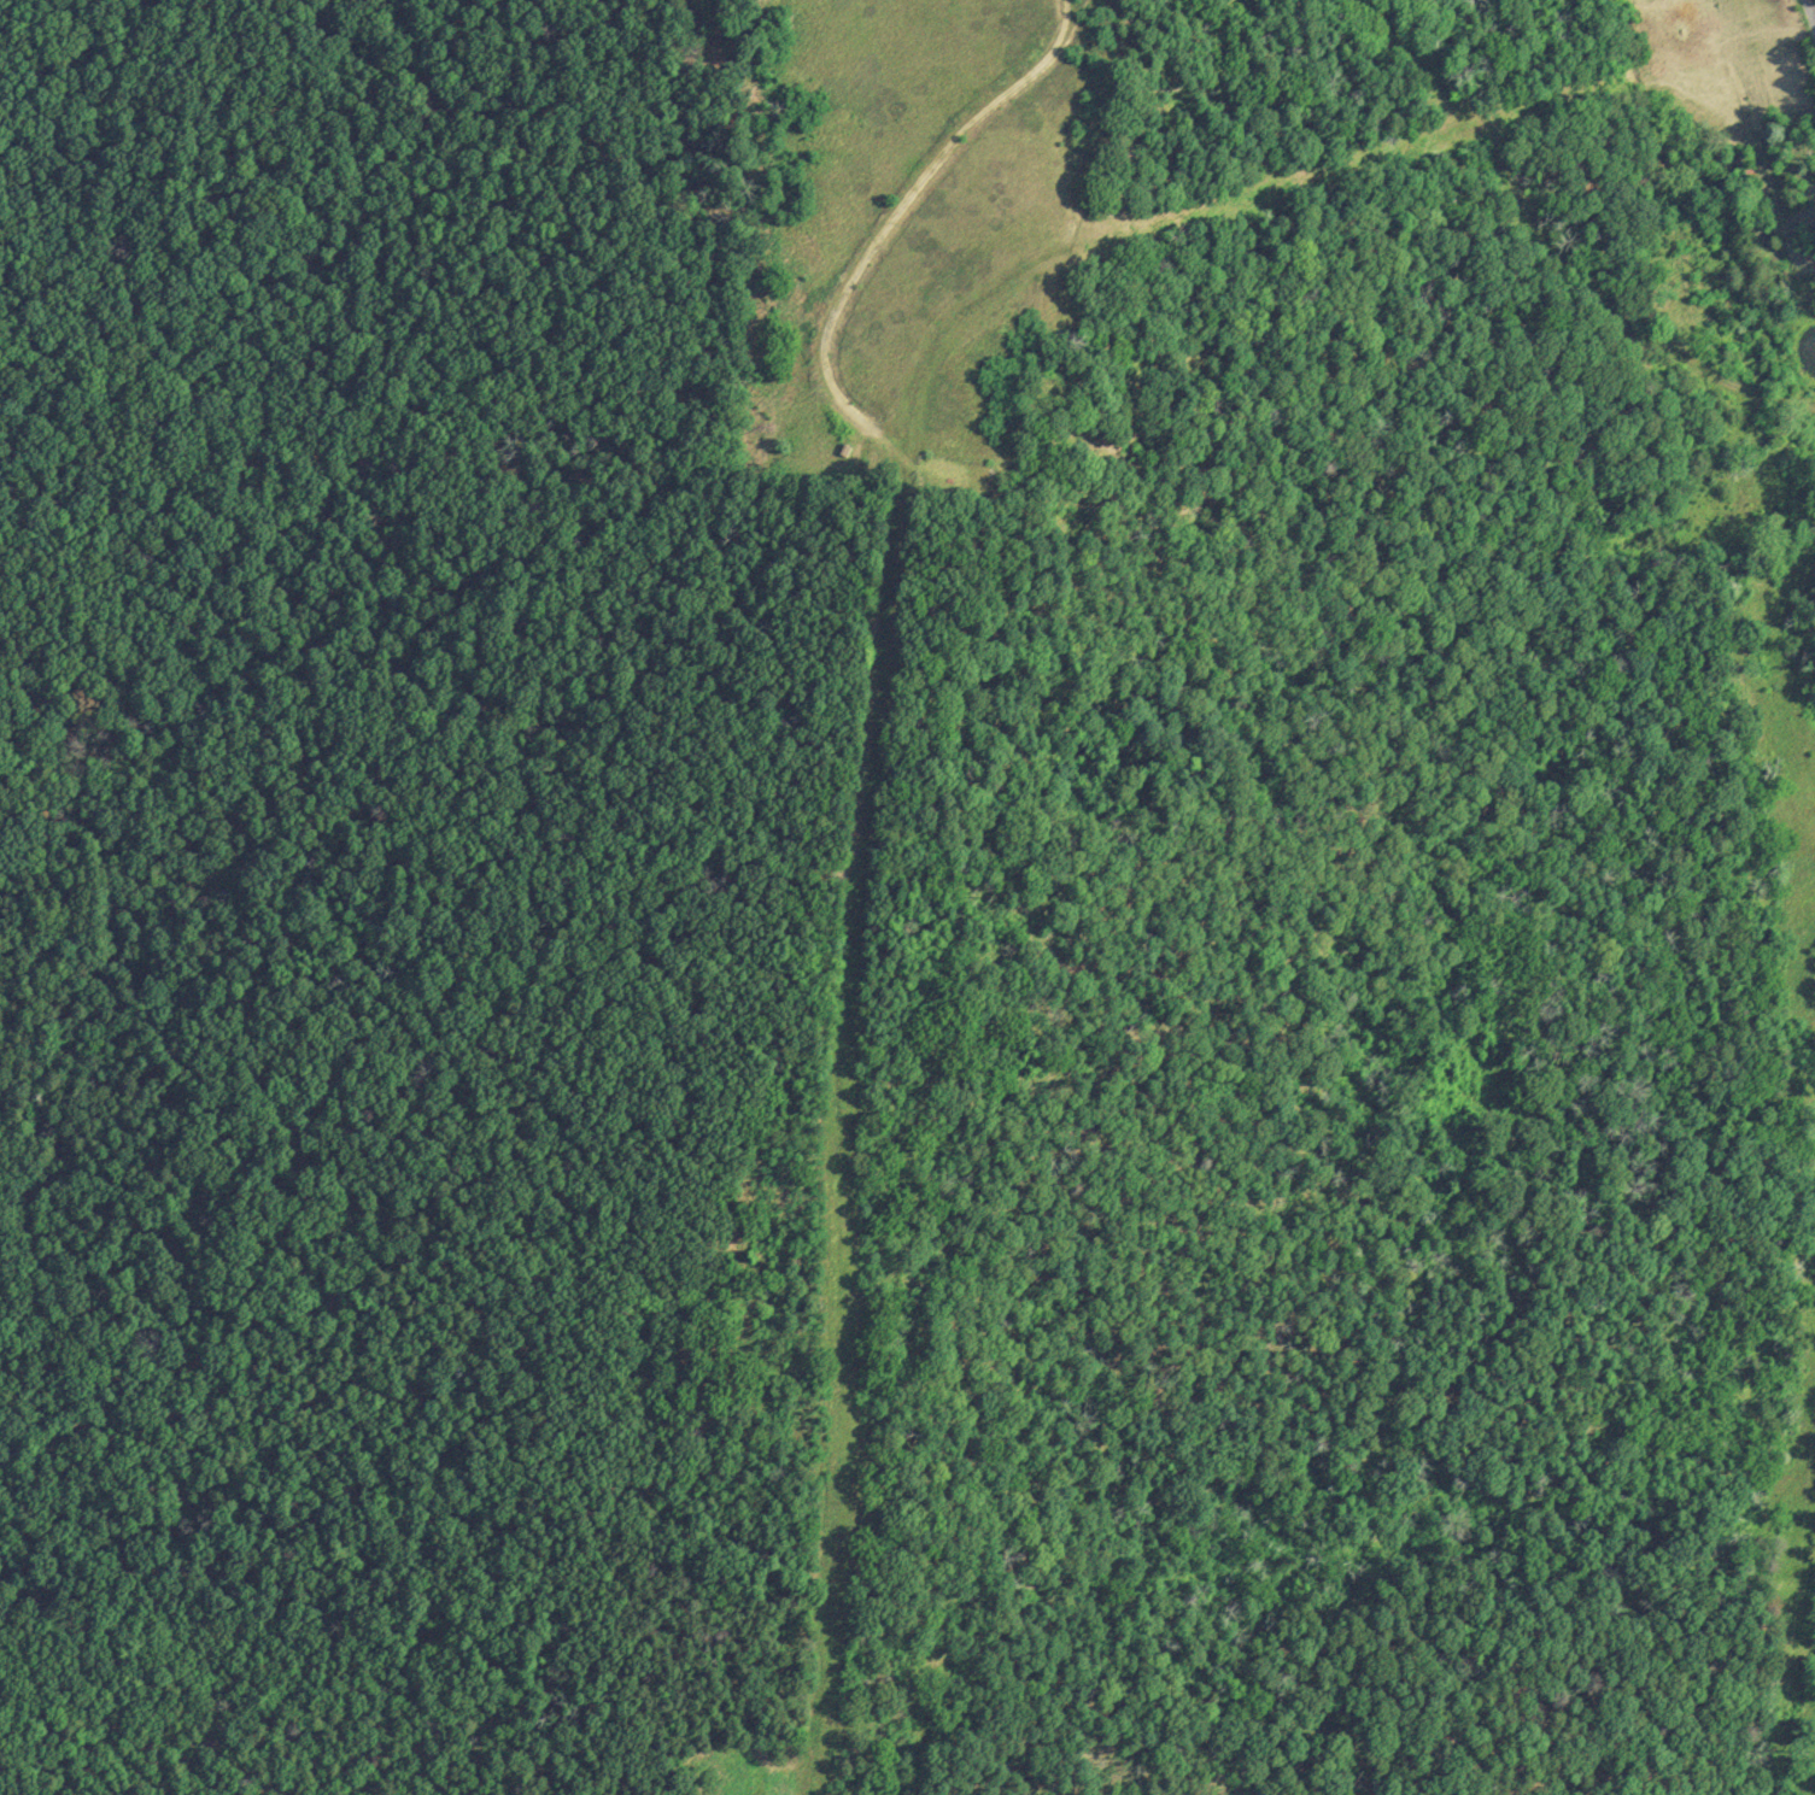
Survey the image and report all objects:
road: (1804, 35)

